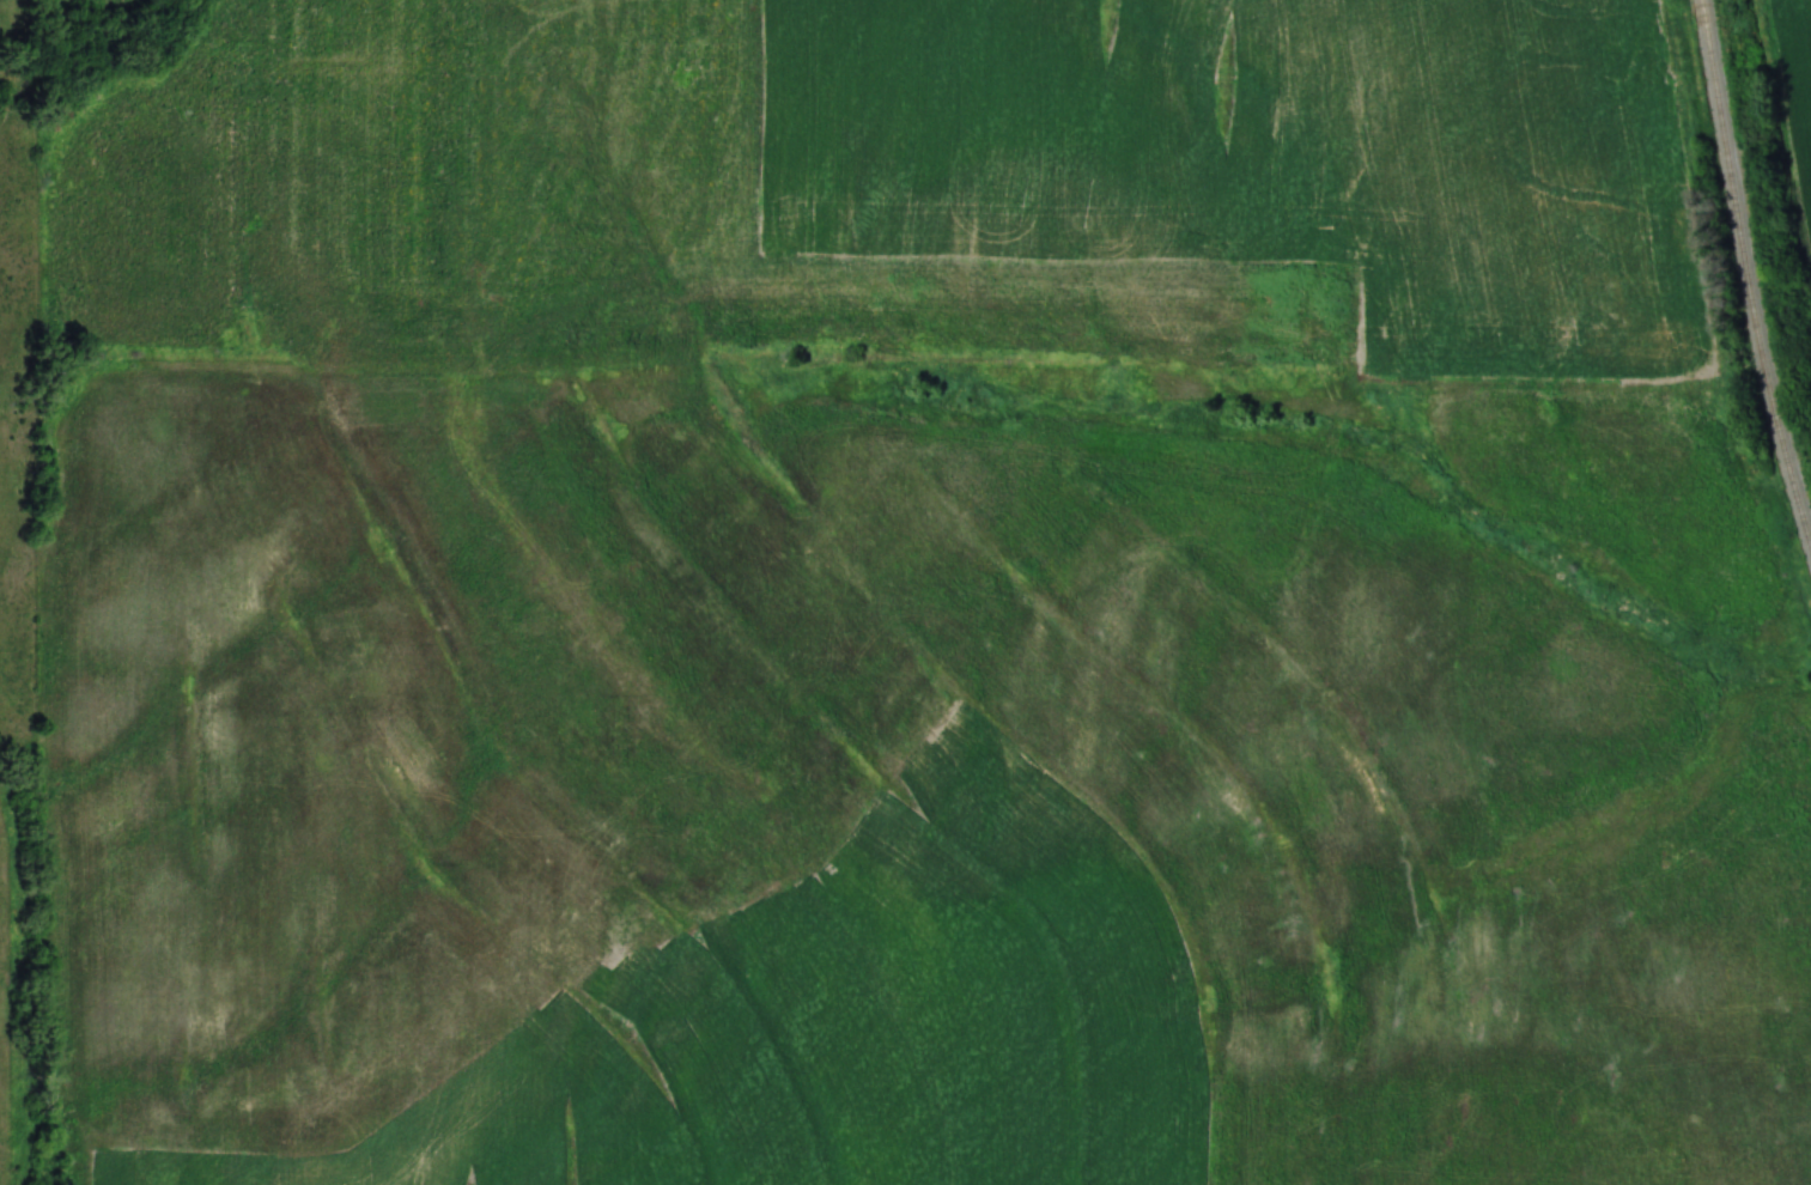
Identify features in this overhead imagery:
railway: (1744, 278)

